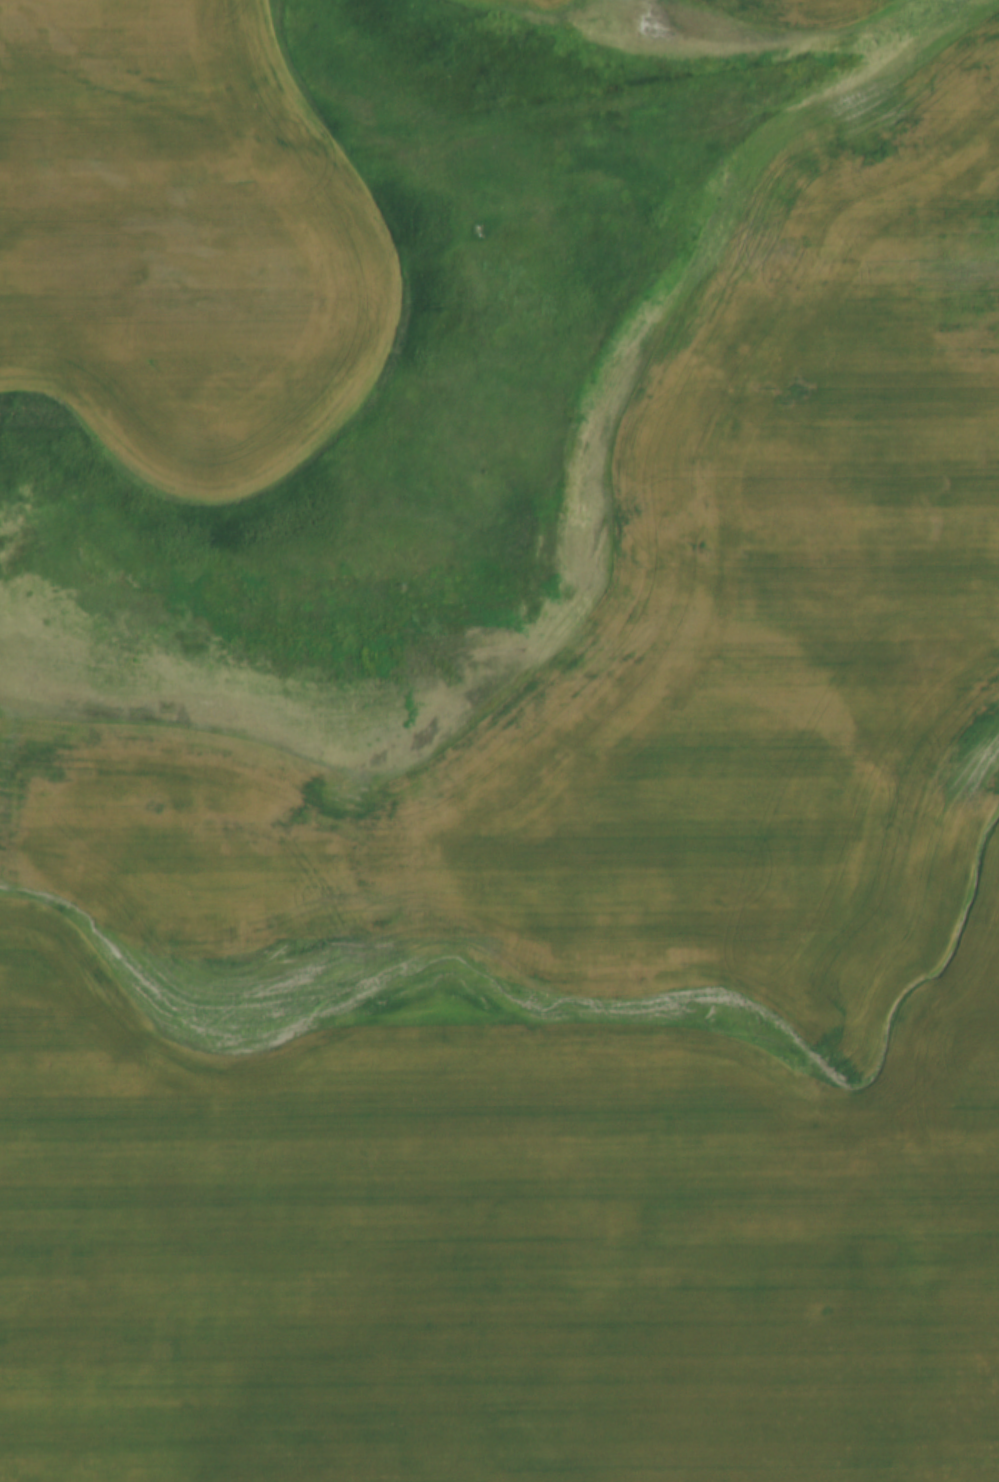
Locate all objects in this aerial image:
road: (499, 129)

